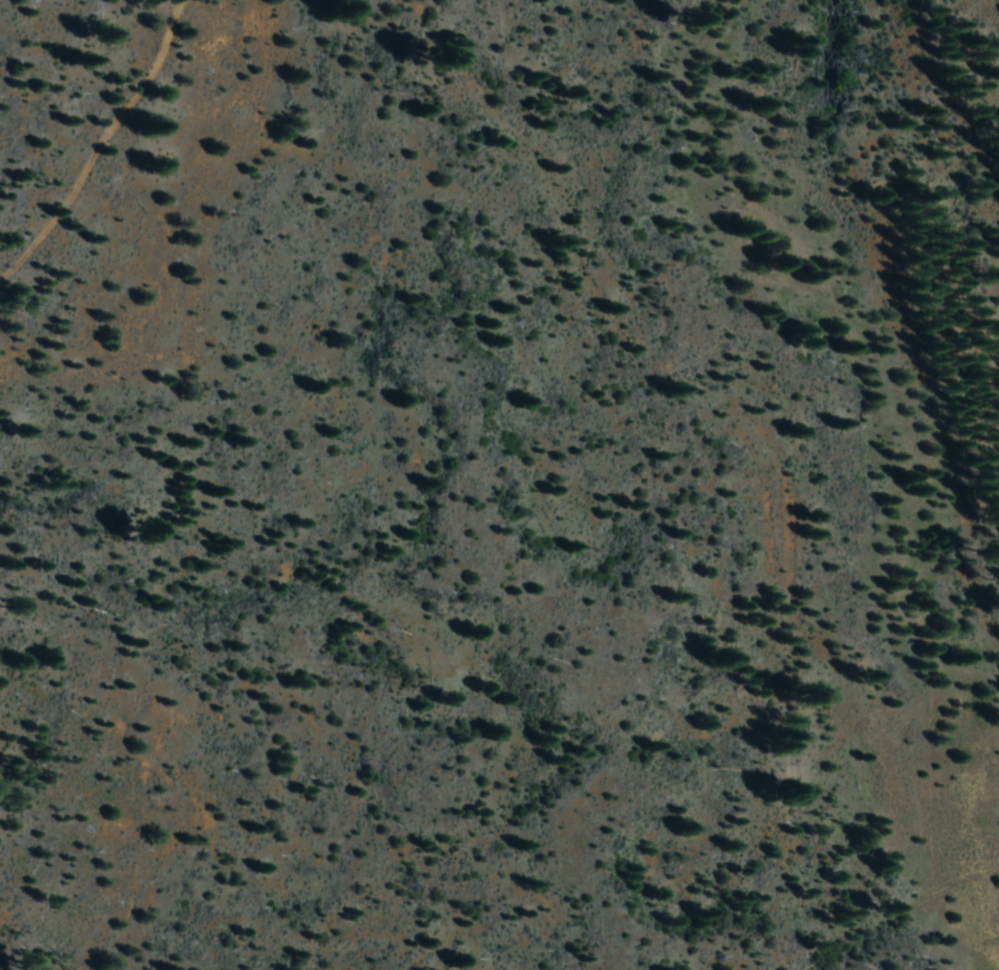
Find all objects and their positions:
road: (106, 149)

